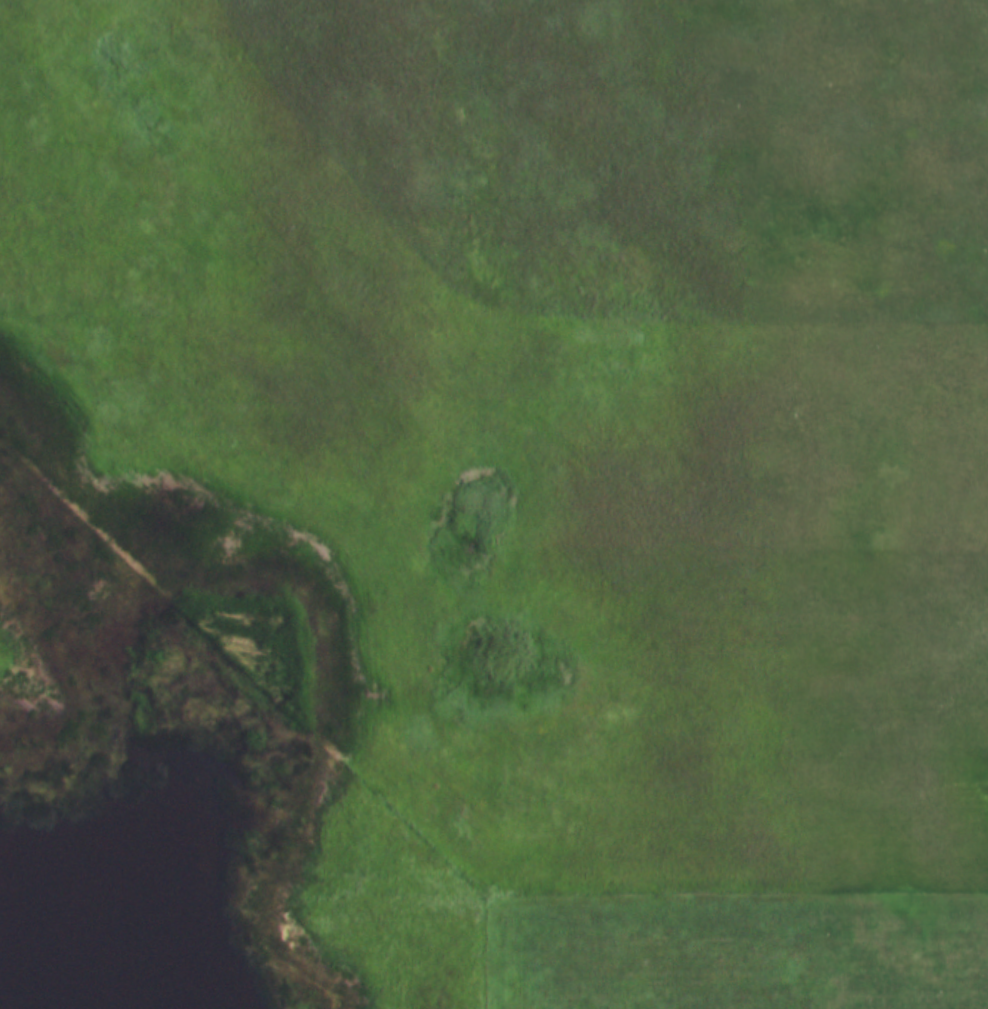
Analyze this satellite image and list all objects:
road: (491, 963)

